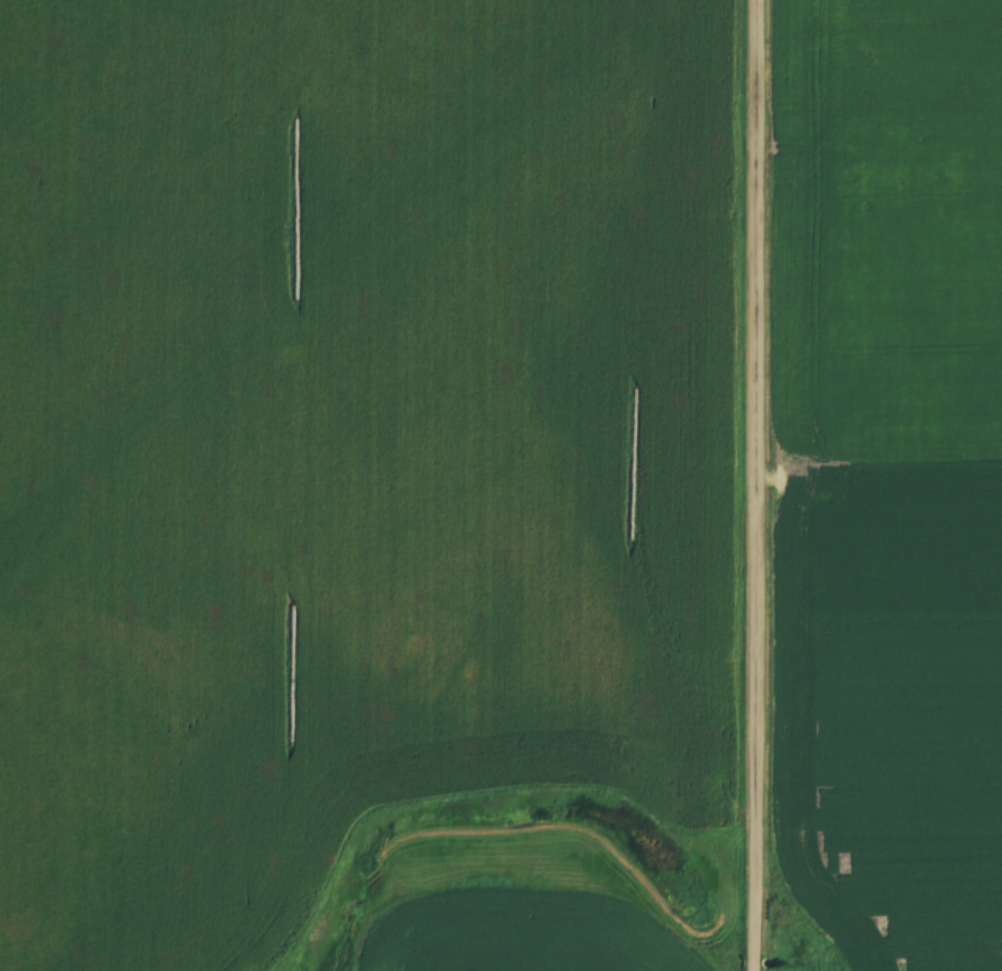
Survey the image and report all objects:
road: (763, 485)

